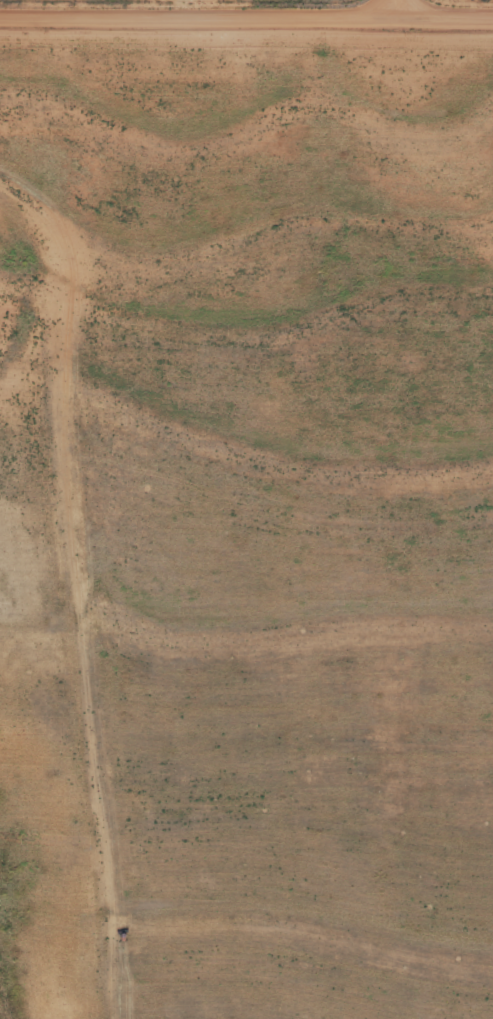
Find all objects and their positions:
road: (399, 7)
road: (246, 16)
road: (64, 595)

